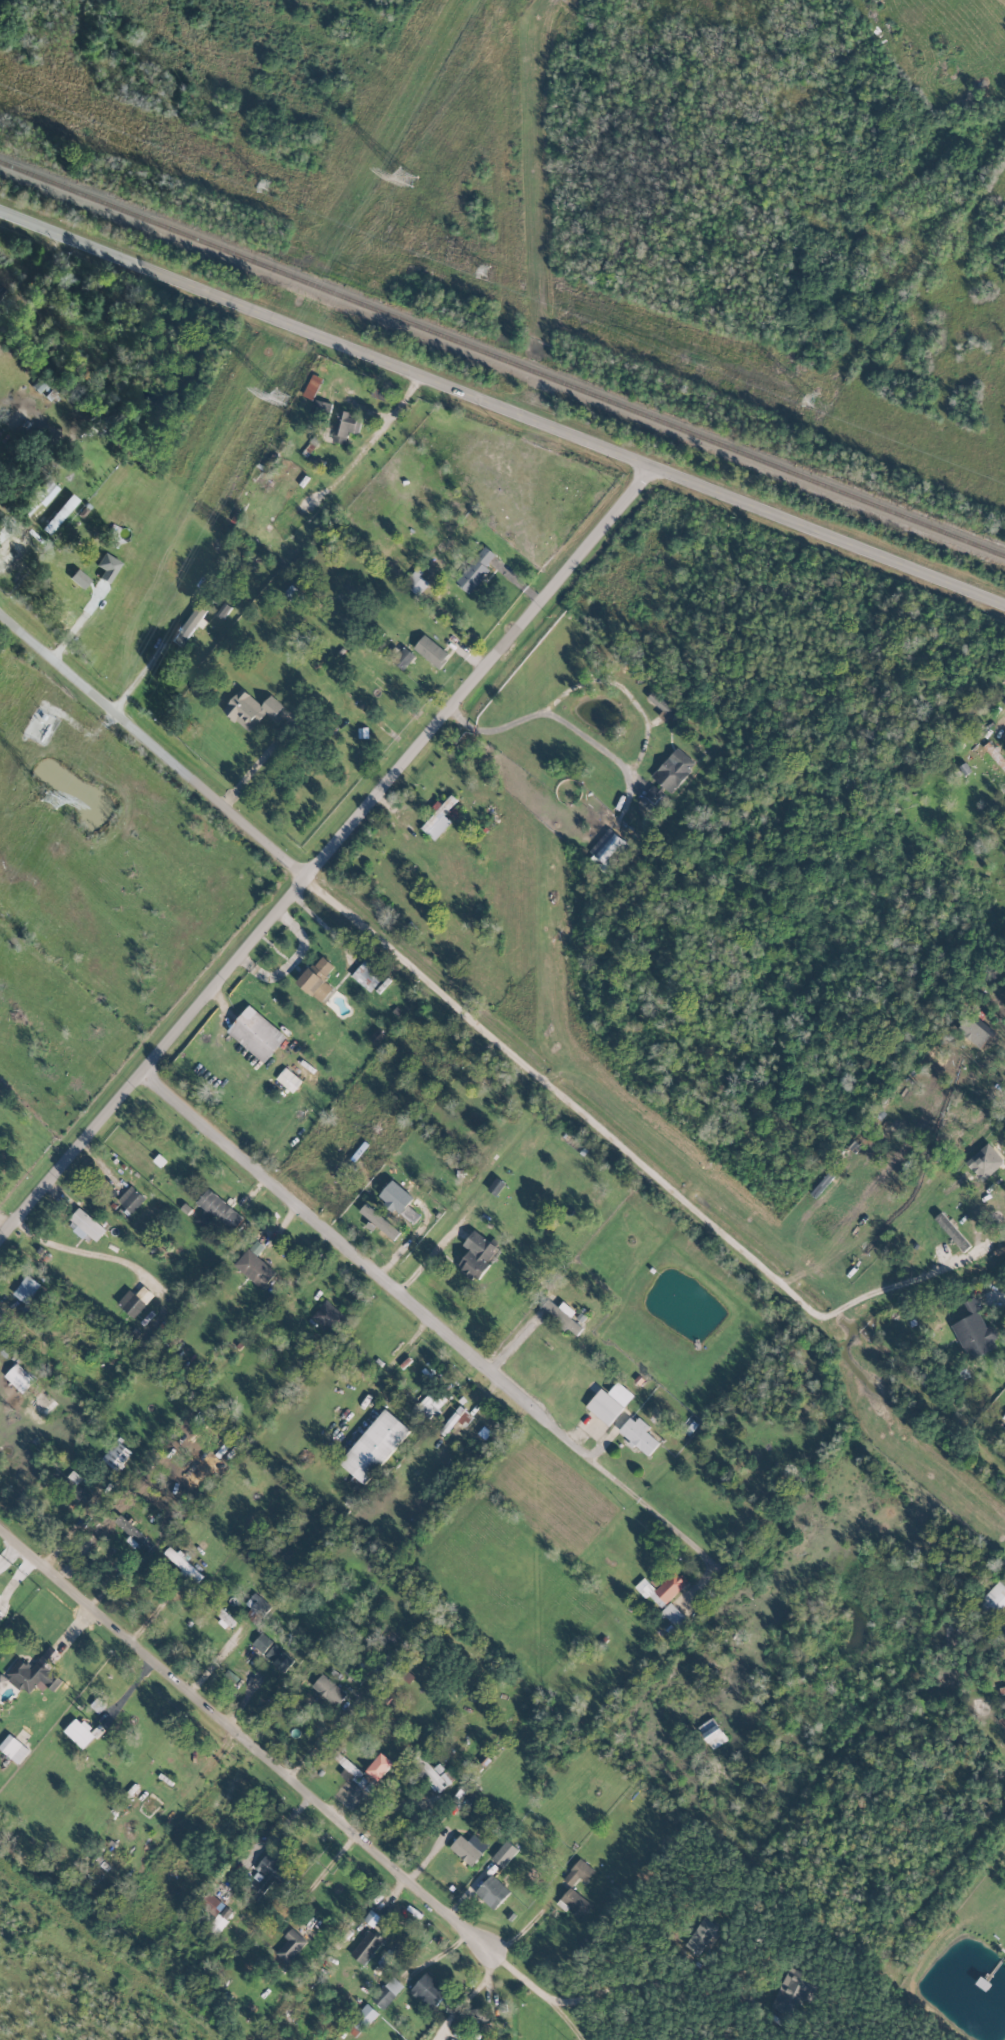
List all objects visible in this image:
power tower: (406, 177)
power tower: (261, 184)
power tower: (480, 271)
road: (331, 336)
railway: (502, 357)
building: (312, 387)
building: (382, 394)
power tower: (280, 397)
power tower: (808, 400)
building: (344, 427)
road: (371, 438)
building: (60, 514)
road: (833, 533)
road: (13, 536)
building: (27, 545)
building: (108, 566)
building: (474, 570)
building: (80, 578)
building: (414, 581)
road: (72, 622)
building: (431, 651)
building: (403, 658)
road: (138, 675)
road: (624, 690)
building: (250, 709)
road: (1002, 710)
road: (563, 725)
road: (158, 749)
building: (994, 755)
road: (256, 764)
building: (672, 769)
power tower: (50, 800)
building: (654, 801)
building: (438, 818)
building: (605, 850)
road: (336, 856)
building: (367, 975)
building: (316, 979)
building: (255, 1034)
building: (288, 1079)
road: (618, 1152)
building: (955, 1183)
building: (495, 1185)
building: (130, 1199)
building: (216, 1212)
building: (409, 1214)
building: (380, 1223)
building: (87, 1224)
building: (951, 1231)
road: (83, 1251)
building: (476, 1255)
building: (254, 1268)
building: (26, 1289)
building: (135, 1300)
road: (414, 1307)
building: (560, 1314)
building: (328, 1317)
building: (974, 1331)
road: (407, 1342)
building: (19, 1377)
building: (609, 1402)
building: (431, 1403)
building: (1003, 1416)
building: (456, 1420)
building: (636, 1433)
building: (374, 1446)
building: (115, 1455)
building: (182, 1564)
building: (661, 1589)
building: (995, 1596)
building: (257, 1604)
building: (221, 1613)
building: (673, 1616)
building: (1004, 1643)
building: (272, 1652)
building: (35, 1672)
building: (328, 1690)
building: (97, 1705)
building: (78, 1733)
building: (712, 1733)
road: (245, 1736)
building: (13, 1748)
building: (379, 1766)
building: (352, 1771)
building: (432, 1773)
building: (468, 1848)
building: (504, 1853)
building: (269, 1872)
building: (577, 1872)
building: (491, 1891)
building: (573, 1903)
building: (212, 1905)
building: (371, 1918)
building: (695, 1936)
building: (290, 1945)
building: (366, 1947)
road: (659, 1985)
building: (429, 1990)
building: (790, 1991)
building: (386, 1992)
road: (535, 1994)
road: (466, 1996)
building: (361, 2020)

